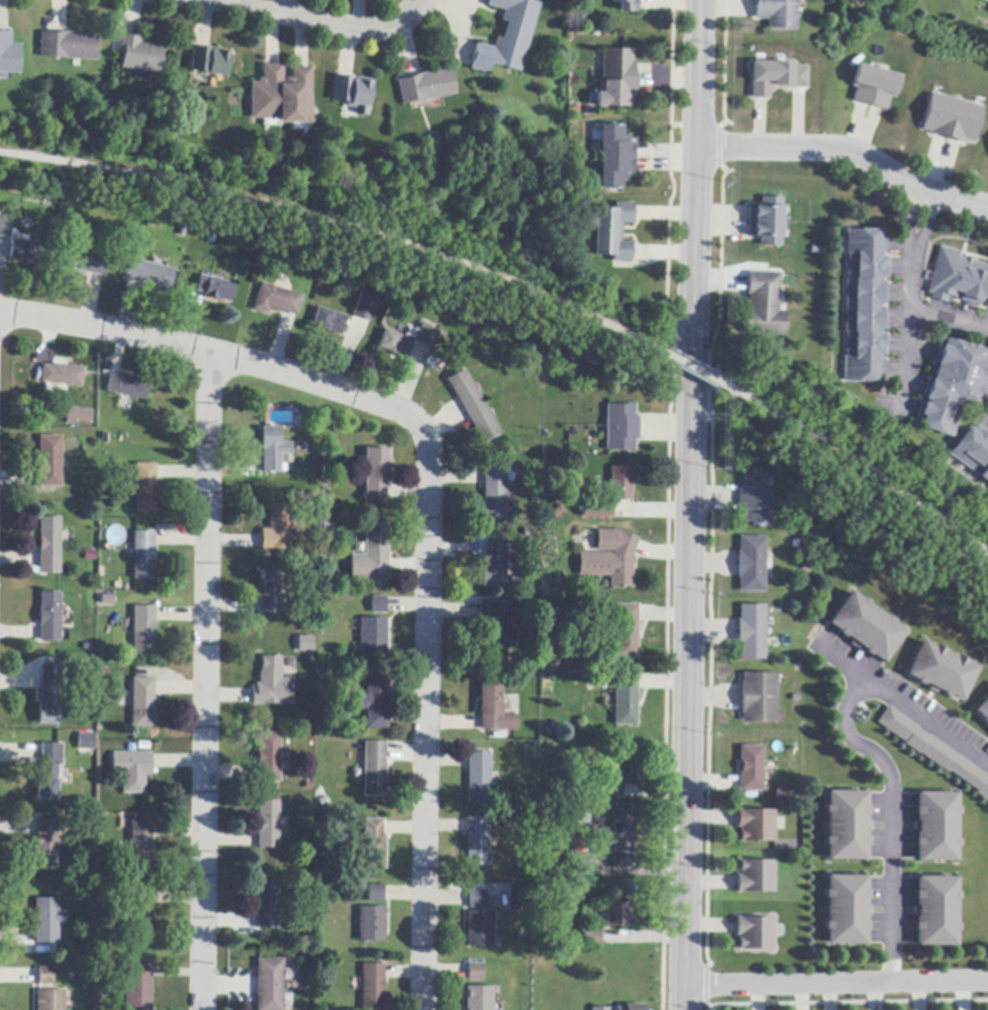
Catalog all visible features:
building: (985, 0)
building: (627, 6)
building: (778, 13)
building: (581, 17)
road: (330, 24)
building: (508, 37)
building: (68, 46)
building: (139, 54)
building: (9, 55)
building: (210, 61)
building: (777, 77)
building: (618, 79)
building: (876, 86)
building: (426, 87)
building: (352, 91)
building: (283, 95)
building: (954, 119)
road: (847, 153)
building: (616, 157)
building: (769, 222)
road: (342, 224)
building: (6, 226)
building: (615, 232)
building: (29, 252)
building: (84, 262)
building: (313, 270)
building: (149, 274)
building: (960, 278)
road: (911, 284)
building: (216, 289)
building: (278, 300)
building: (767, 306)
building: (868, 306)
building: (987, 306)
building: (366, 308)
road: (949, 321)
building: (330, 322)
building: (427, 336)
building: (396, 344)
road: (694, 368)
building: (63, 375)
building: (55, 386)
building: (955, 386)
building: (128, 387)
building: (474, 406)
building: (78, 415)
building: (624, 428)
building: (273, 450)
building: (975, 450)
road: (858, 461)
building: (50, 462)
building: (377, 473)
road: (841, 484)
building: (145, 488)
building: (614, 493)
building: (495, 494)
road: (425, 497)
building: (759, 499)
road: (690, 505)
building: (276, 529)
building: (49, 542)
building: (143, 555)
building: (373, 555)
building: (89, 556)
building: (613, 558)
building: (755, 564)
building: (495, 566)
building: (270, 592)
building: (379, 605)
building: (49, 617)
building: (497, 623)
building: (869, 625)
building: (143, 630)
building: (628, 631)
building: (755, 633)
building: (374, 637)
building: (306, 644)
building: (943, 669)
road: (206, 682)
building: (271, 684)
building: (49, 694)
building: (761, 698)
building: (627, 699)
road: (901, 702)
building: (142, 703)
building: (376, 703)
building: (495, 709)
building: (982, 709)
building: (552, 727)
building: (85, 742)
building: (933, 750)
building: (269, 758)
building: (376, 769)
building: (753, 769)
building: (132, 770)
building: (48, 772)
building: (622, 775)
building: (480, 778)
building: (579, 814)
road: (889, 817)
building: (846, 824)
building: (269, 825)
building: (937, 825)
building: (758, 826)
building: (625, 837)
building: (479, 842)
building: (46, 844)
building: (375, 844)
building: (141, 845)
building: (579, 864)
building: (757, 877)
building: (377, 893)
building: (479, 899)
building: (518, 900)
building: (268, 906)
building: (845, 908)
building: (935, 909)
building: (142, 914)
building: (620, 915)
building: (47, 921)
building: (372, 924)
building: (481, 929)
building: (755, 933)
building: (593, 937)
building: (477, 972)
building: (45, 976)
building: (270, 984)
road: (834, 984)
building: (374, 987)
building: (138, 989)
building: (481, 998)
building: (50, 1000)
building: (633, 1007)
building: (602, 1009)

